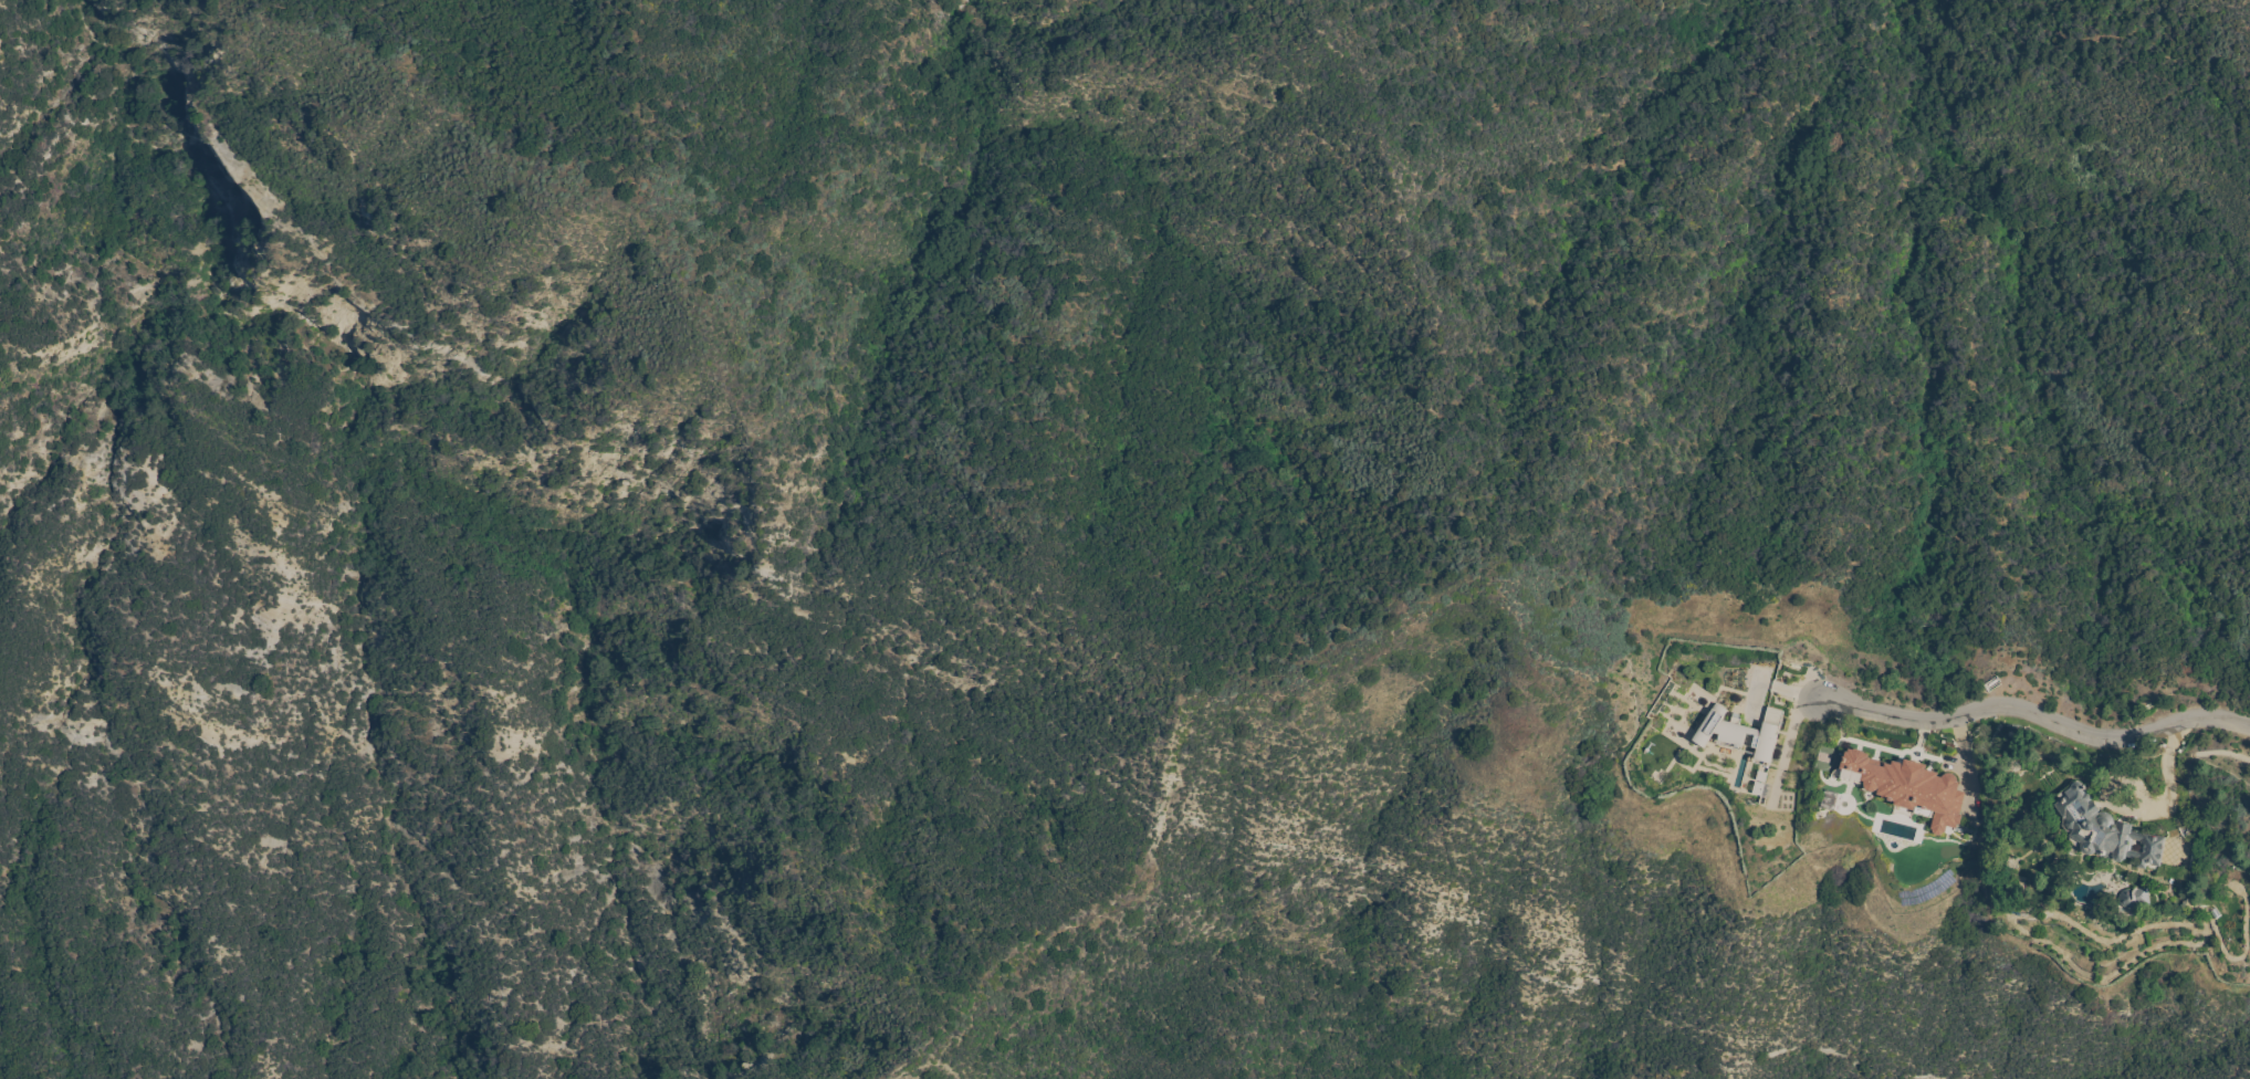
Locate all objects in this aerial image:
road: (2036, 714)
building: (1741, 732)
road: (1967, 766)
building: (1908, 787)
building: (2105, 830)
building: (2134, 898)

